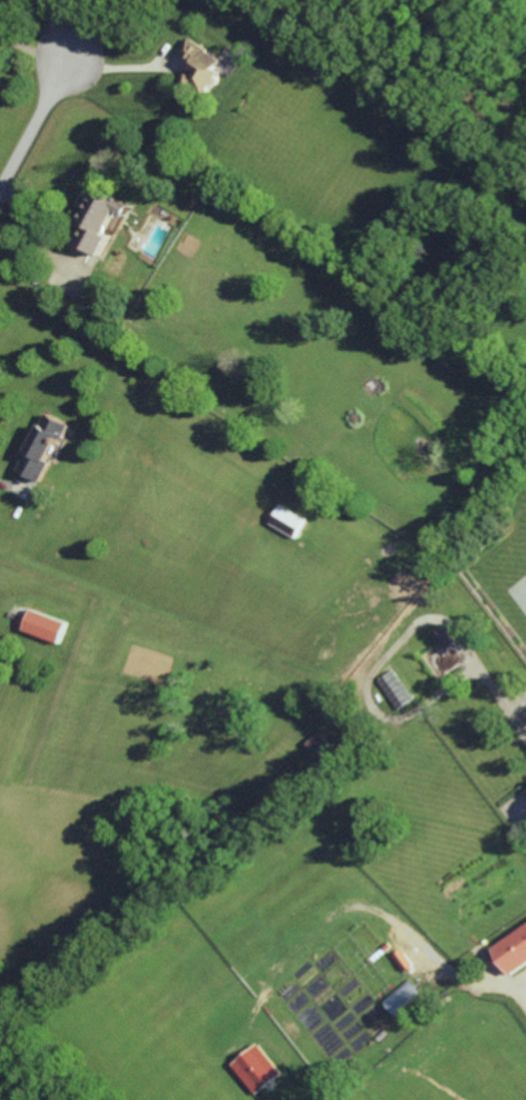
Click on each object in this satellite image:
road: (54, 32)
road: (33, 50)
building: (210, 64)
road: (125, 68)
road: (34, 128)
building: (101, 221)
road: (40, 233)
building: (43, 446)
road: (9, 484)
building: (288, 520)
building: (46, 626)
building: (396, 689)
building: (513, 950)
building: (256, 1068)

